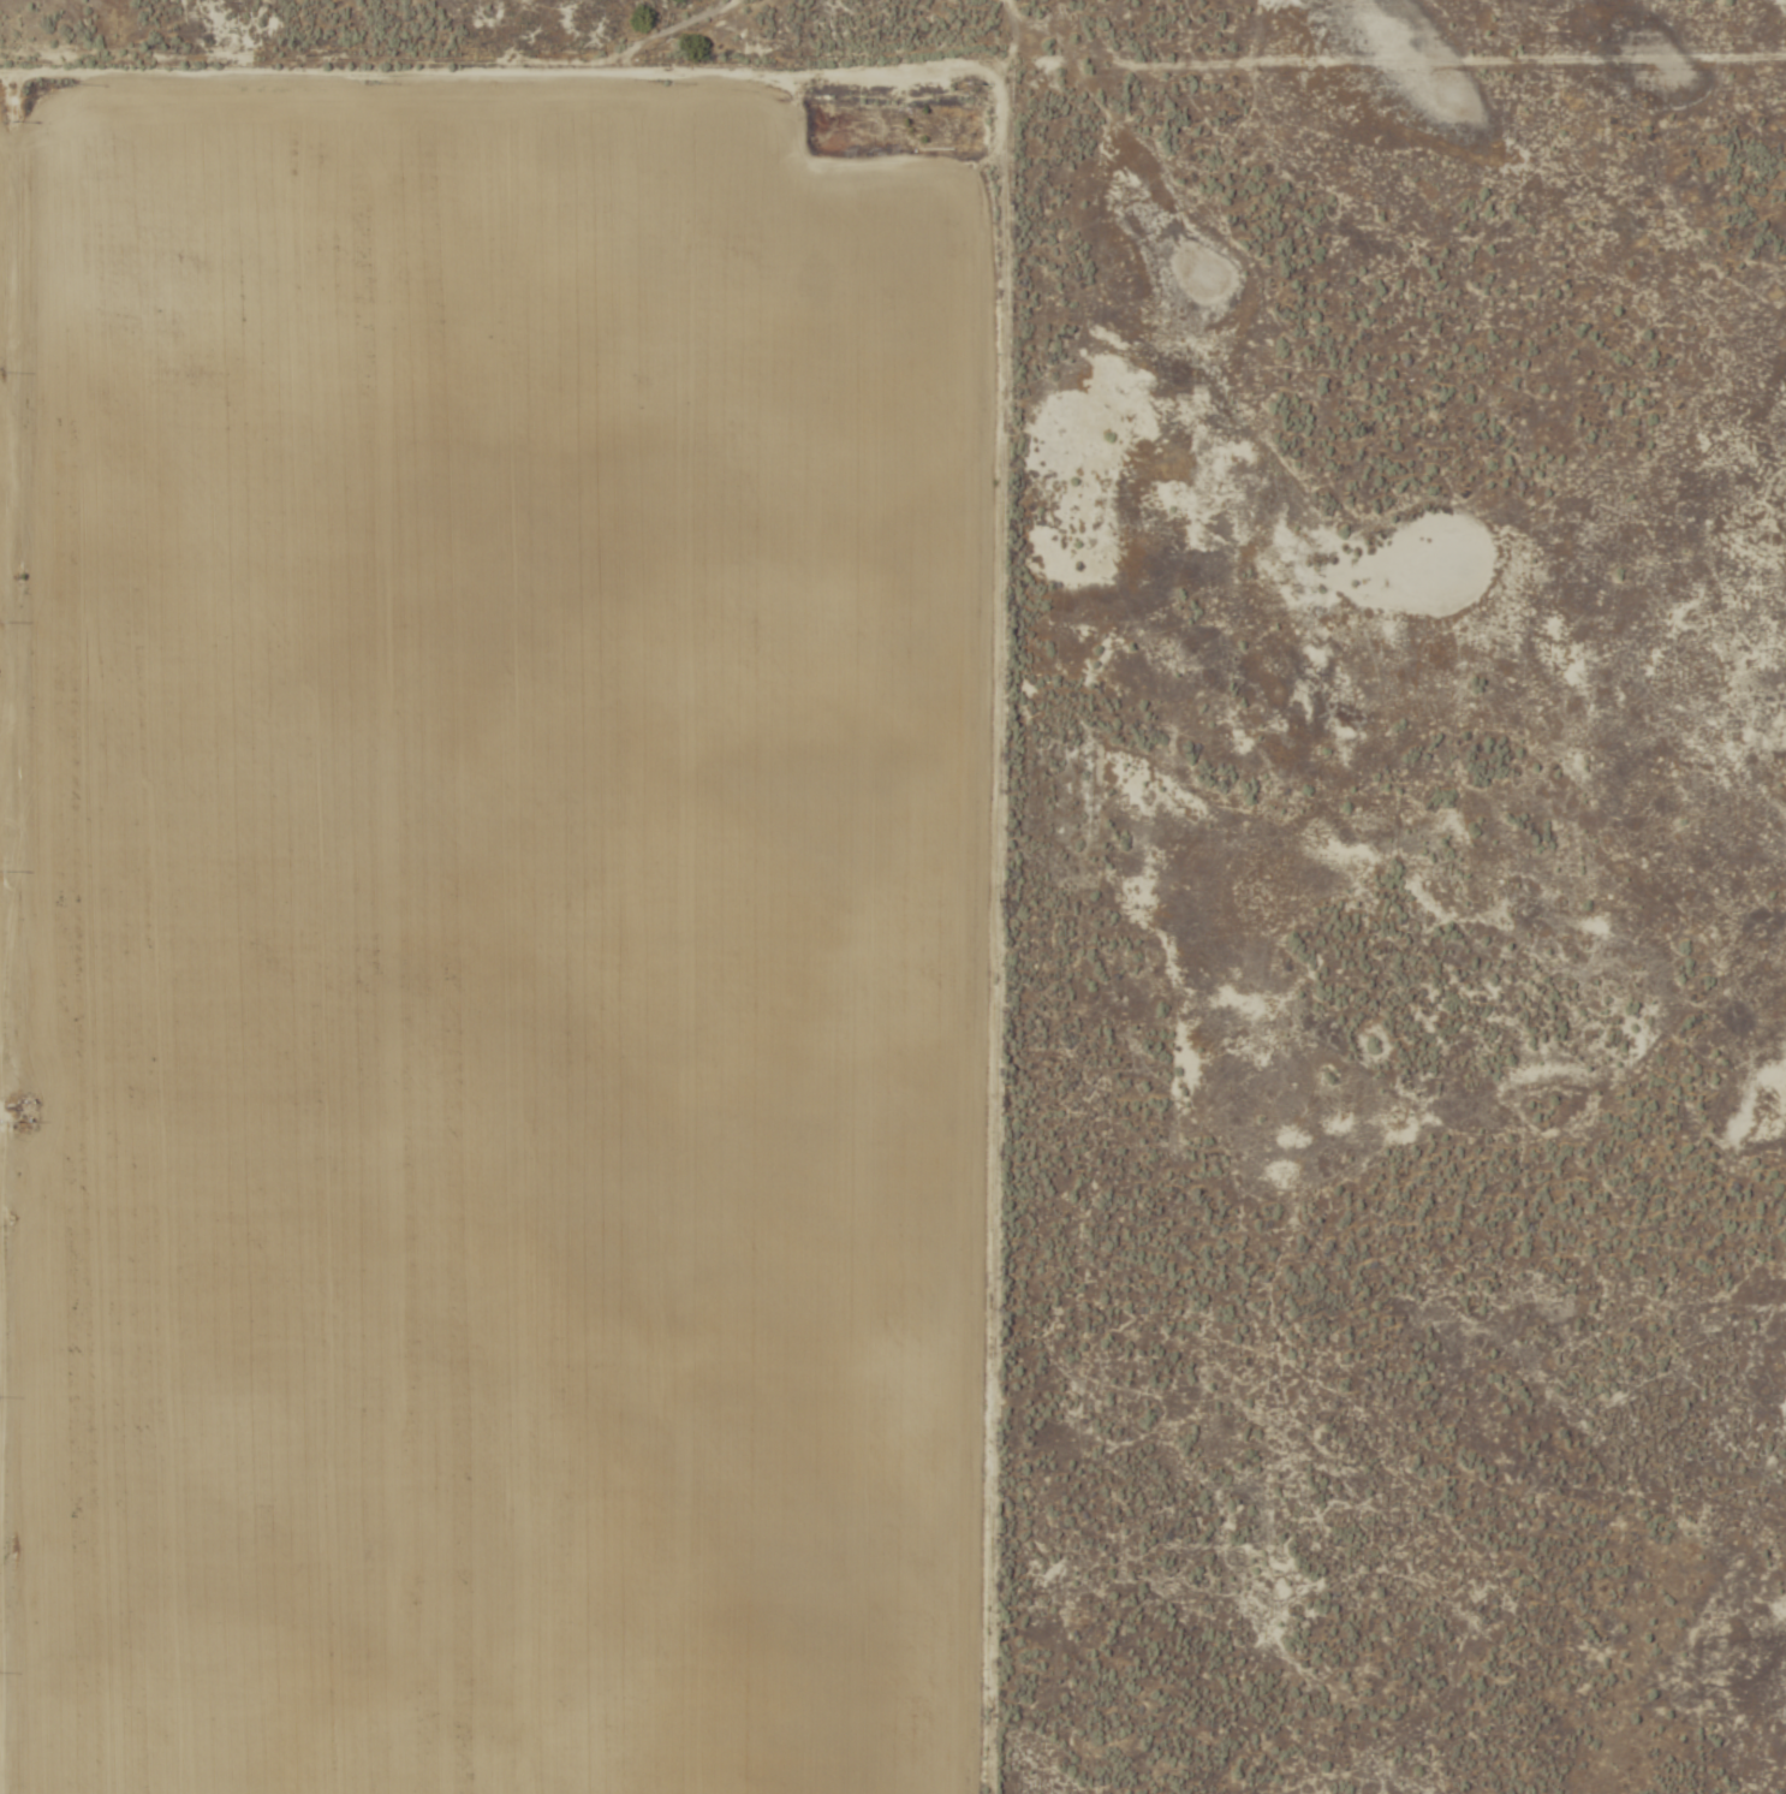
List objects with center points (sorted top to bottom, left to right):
road: (395, 182)
crop: (499, 931)

